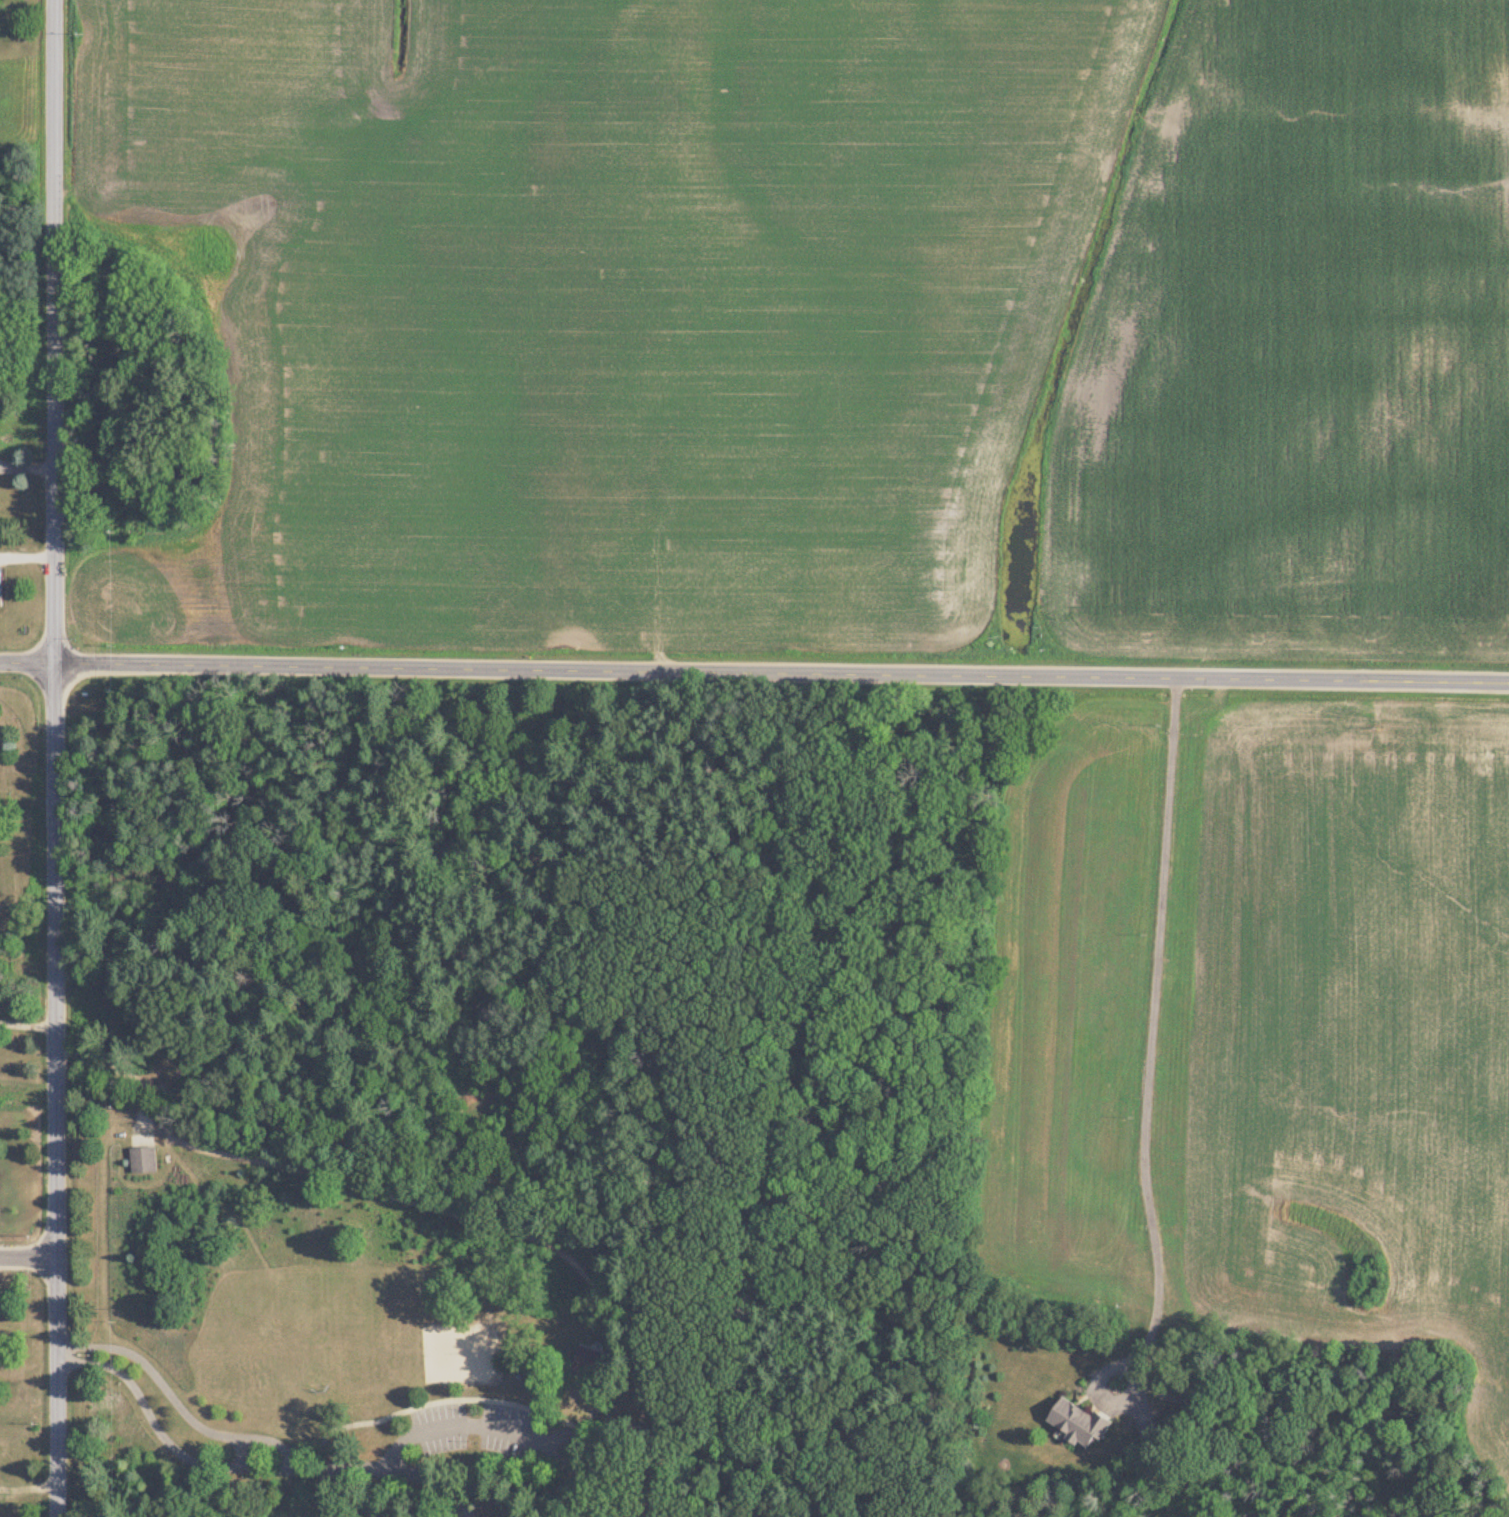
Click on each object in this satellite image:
building: (1, 582)
road: (754, 672)
road: (56, 758)
park: (527, 1096)
road: (1147, 1098)
building: (144, 1159)
road: (29, 1257)
building: (468, 1353)
building: (590, 1361)
building: (1079, 1423)
road: (423, 1431)
building: (1150, 1431)
road: (240, 1453)
road: (311, 1467)
road: (431, 1480)

